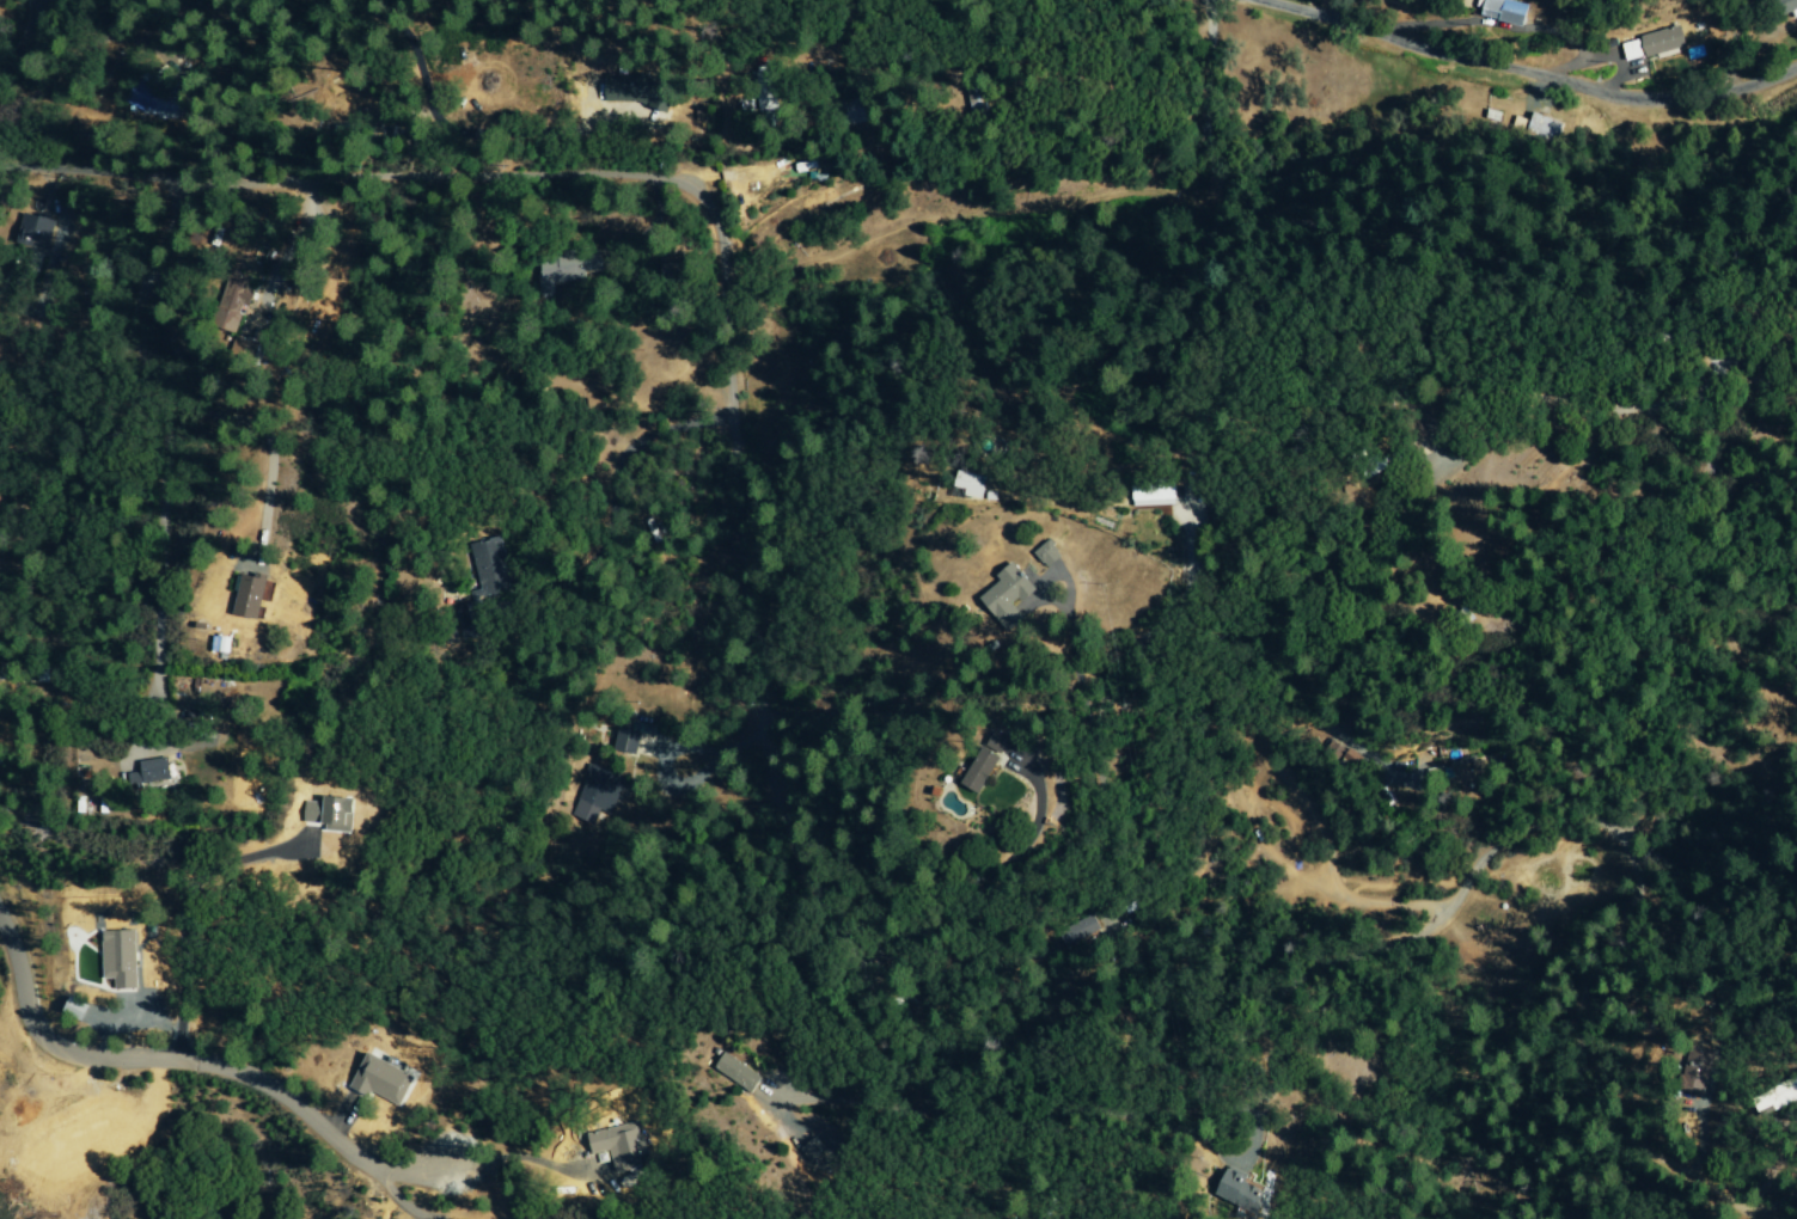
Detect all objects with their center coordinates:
building: (1499, 11)
road: (33, 26)
building: (1648, 44)
road: (38, 49)
road: (1546, 76)
building: (634, 92)
building: (152, 102)
road: (1194, 105)
building: (1541, 127)
building: (39, 234)
building: (233, 302)
building: (971, 484)
building: (1154, 496)
road: (882, 551)
building: (1051, 553)
building: (489, 569)
building: (1013, 595)
building: (250, 596)
building: (219, 644)
road: (630, 661)
building: (625, 740)
building: (982, 770)
building: (151, 772)
building: (1456, 774)
building: (593, 795)
road: (795, 839)
building: (1076, 931)
building: (118, 958)
road: (197, 1058)
building: (735, 1073)
building: (381, 1079)
building: (1777, 1097)
building: (619, 1146)
building: (812, 1150)
building: (1241, 1192)

